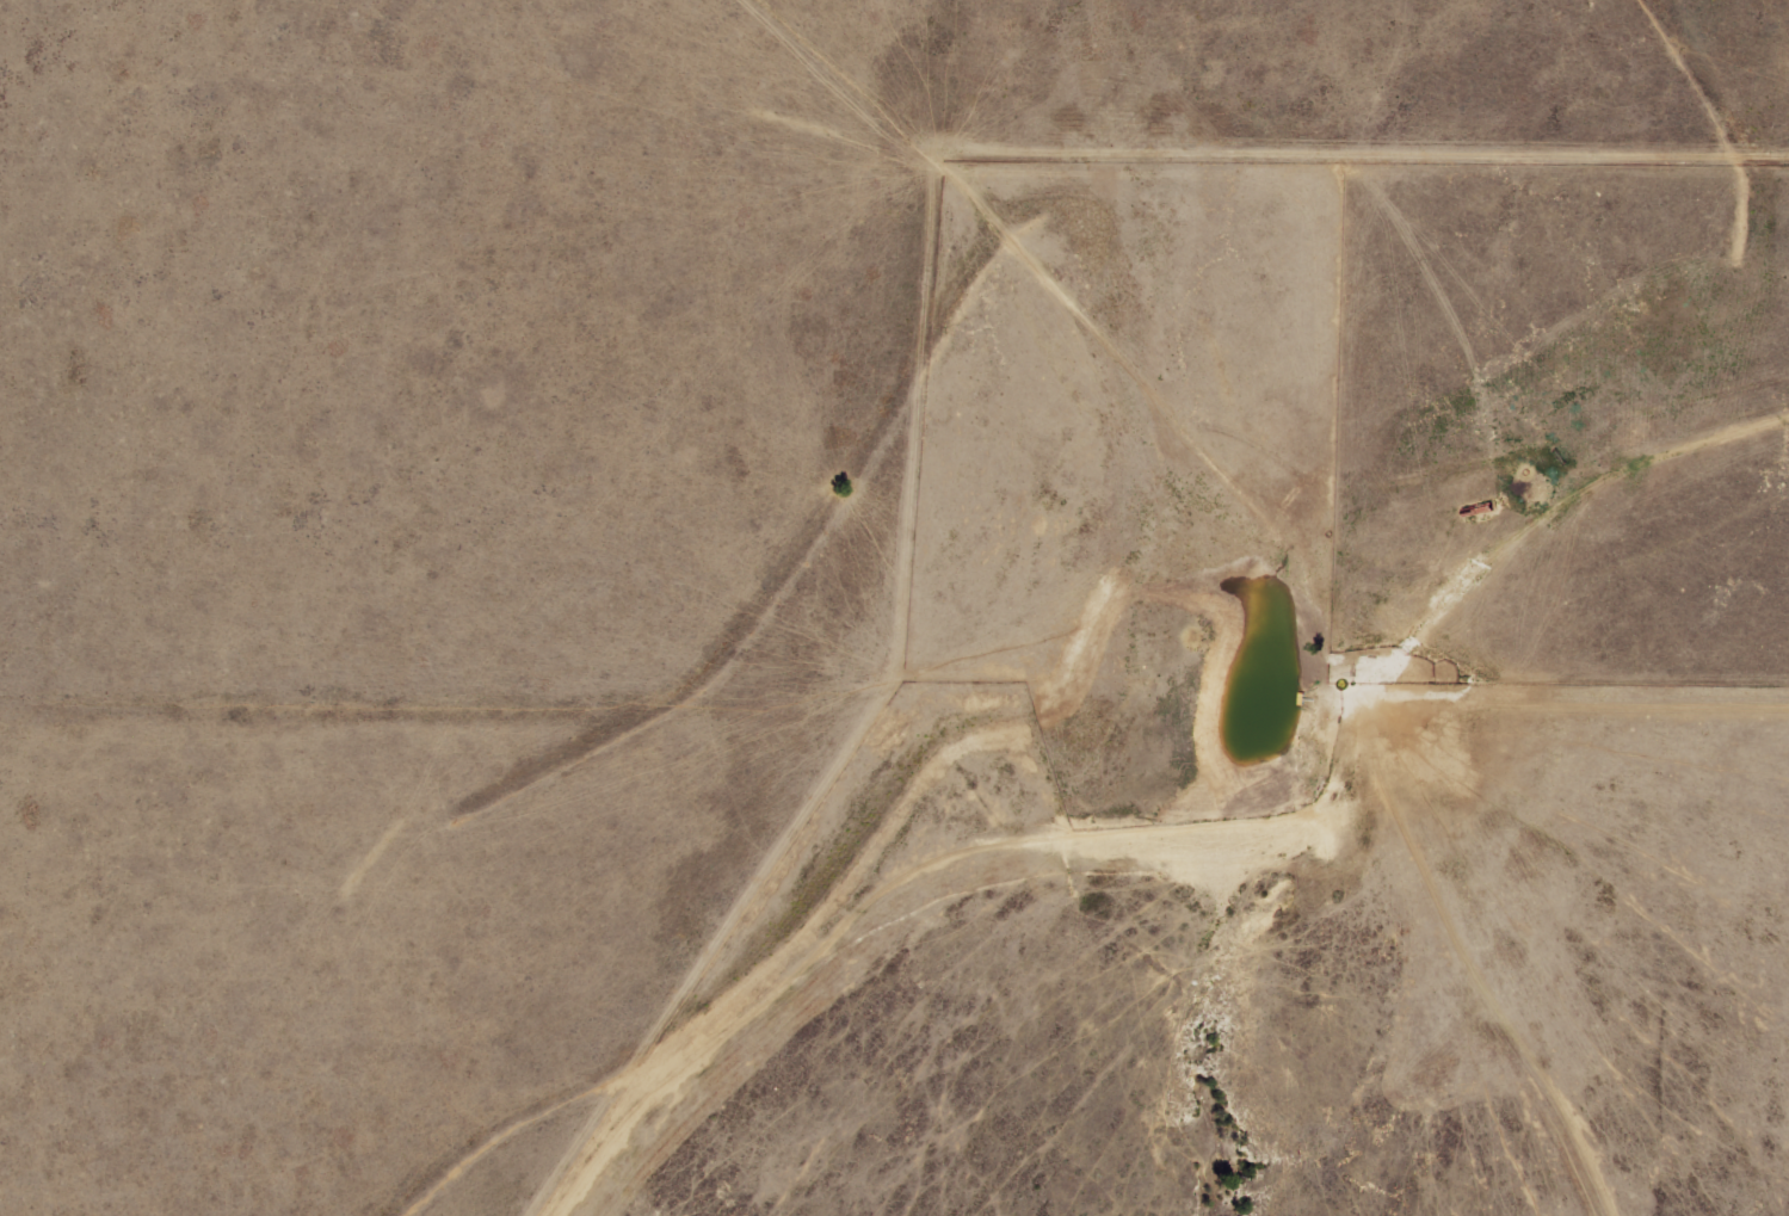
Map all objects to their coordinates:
road: (1370, 733)

